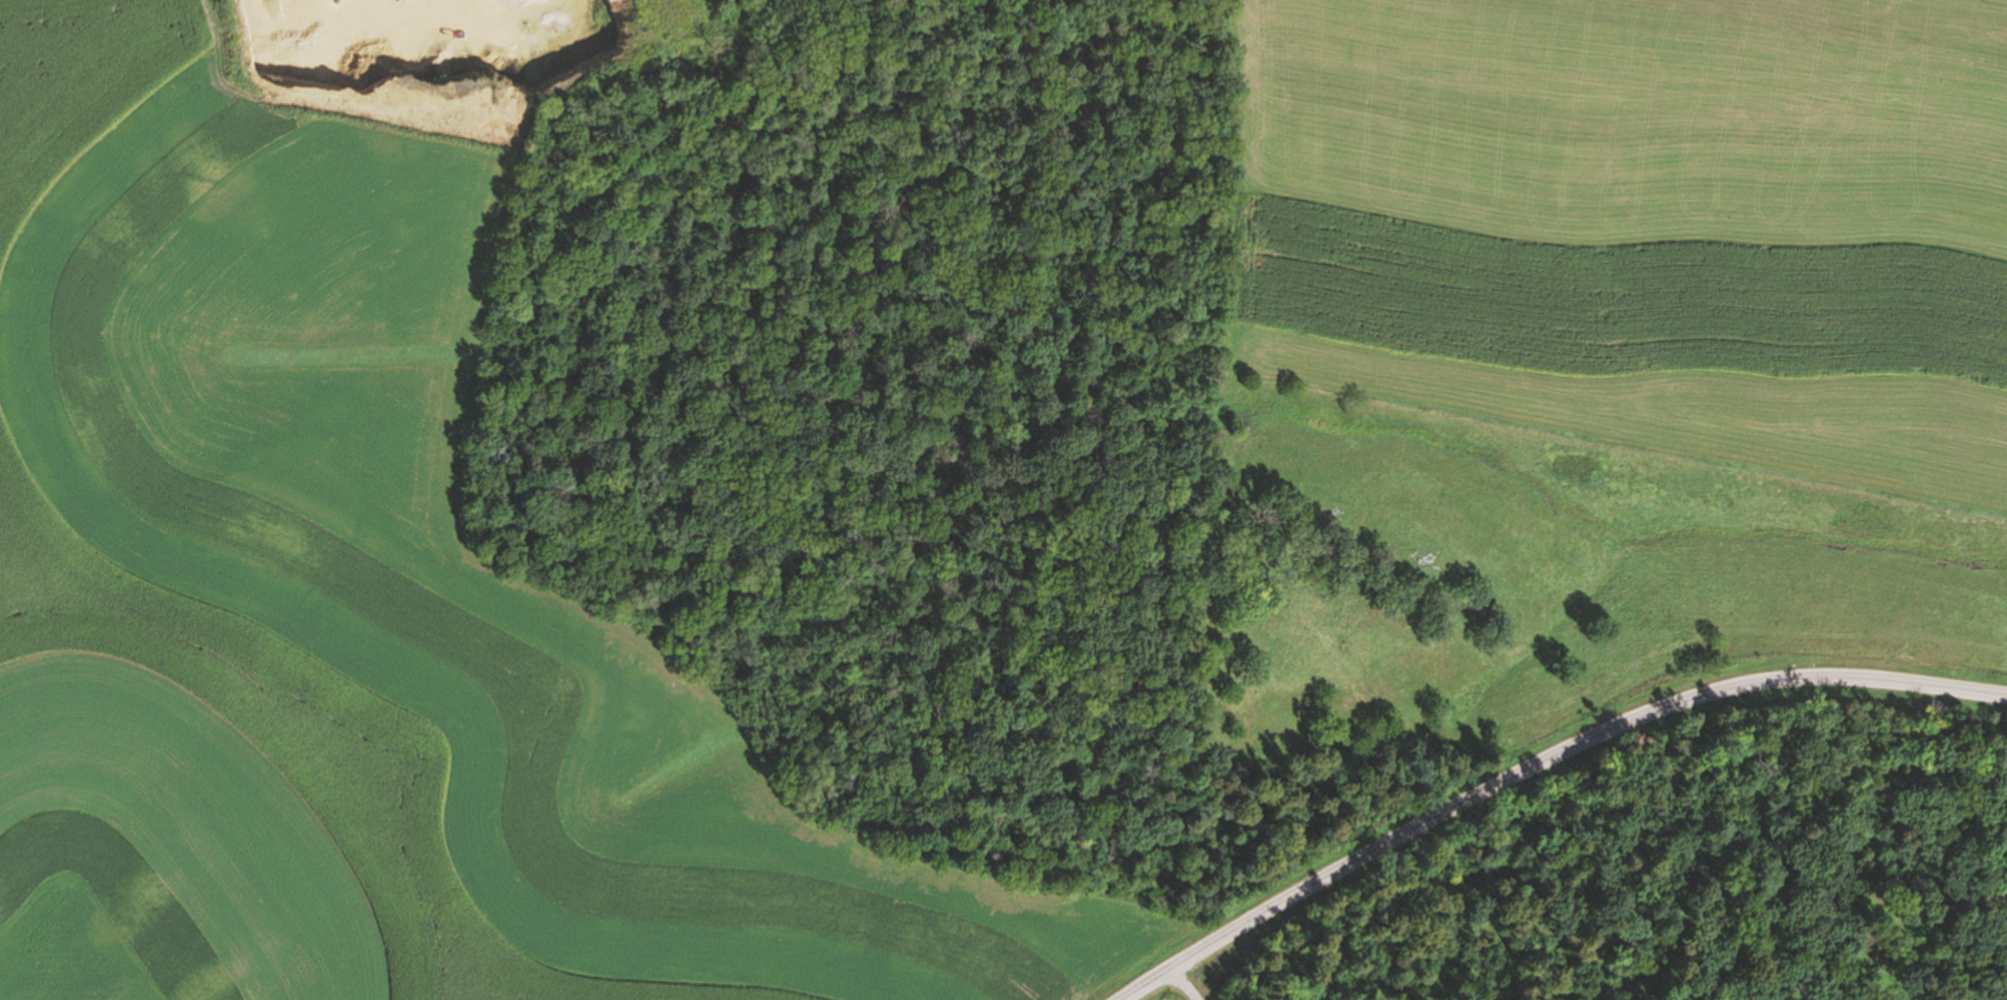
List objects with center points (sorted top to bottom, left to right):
quarry: (518, 54)
road: (1548, 752)

